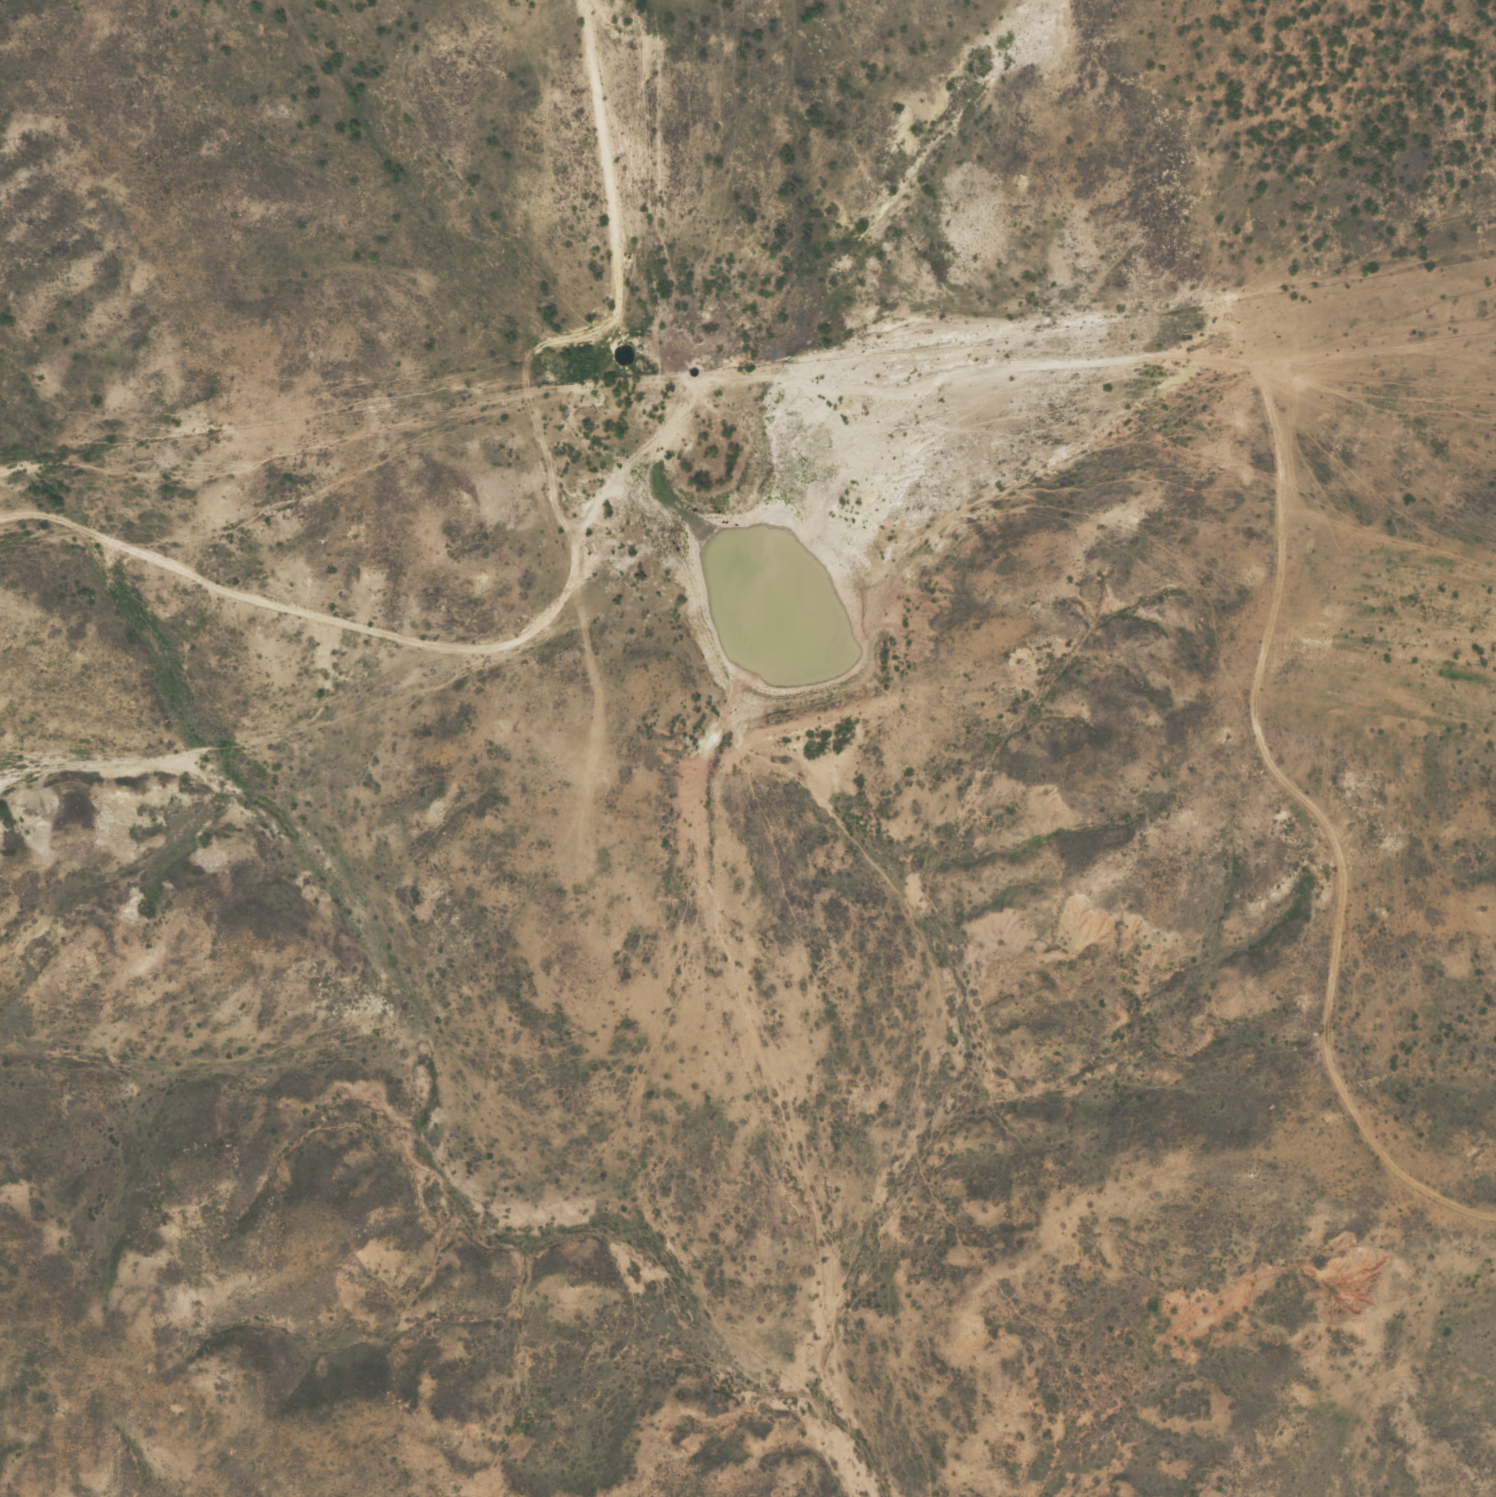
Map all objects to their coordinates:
road: (533, 547)

